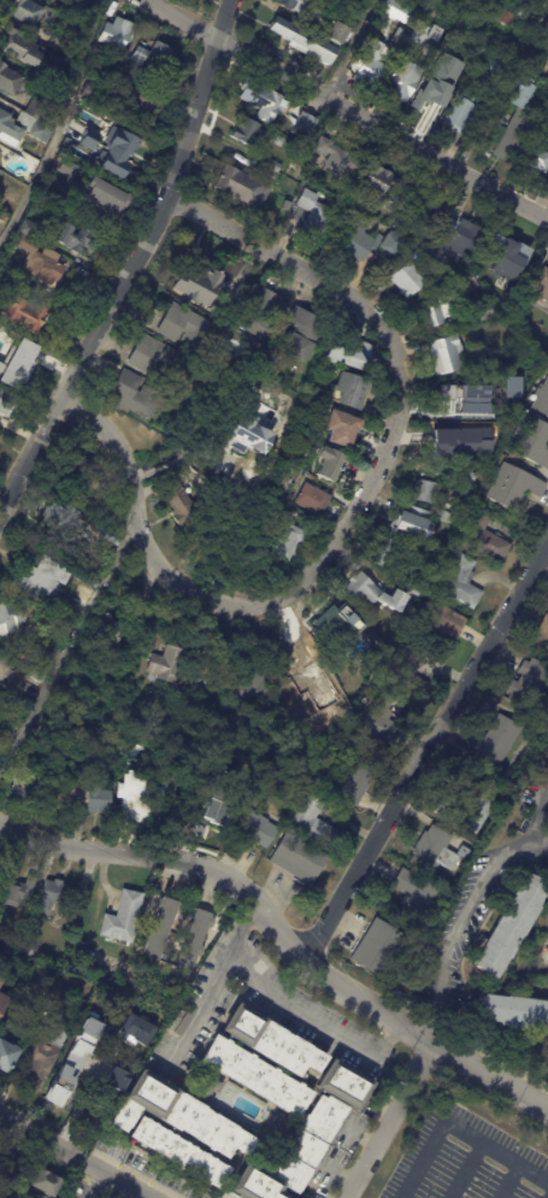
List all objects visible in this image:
building: (408, 0)
building: (419, 0)
building: (294, 6)
building: (349, 6)
building: (432, 6)
building: (525, 7)
building: (24, 11)
building: (396, 11)
building: (503, 17)
building: (467, 20)
building: (544, 23)
building: (334, 33)
building: (418, 33)
building: (114, 34)
building: (395, 36)
building: (302, 42)
building: (57, 43)
building: (19, 48)
building: (149, 57)
building: (450, 58)
building: (369, 63)
building: (494, 72)
building: (51, 78)
building: (403, 80)
building: (8, 81)
building: (440, 81)
building: (87, 92)
building: (135, 95)
building: (259, 99)
road: (349, 107)
building: (459, 107)
building: (515, 113)
road: (59, 123)
building: (25, 124)
building: (302, 127)
building: (247, 131)
building: (276, 140)
building: (537, 142)
building: (116, 147)
building: (69, 148)
building: (336, 162)
building: (535, 162)
building: (272, 165)
building: (66, 169)
building: (240, 188)
building: (376, 188)
building: (101, 204)
building: (422, 211)
building: (276, 212)
building: (312, 215)
building: (2, 218)
building: (397, 227)
building: (70, 239)
building: (459, 239)
building: (370, 243)
building: (505, 254)
building: (35, 256)
road: (135, 264)
building: (481, 269)
building: (403, 280)
building: (198, 286)
building: (24, 287)
building: (541, 288)
building: (40, 294)
building: (518, 306)
building: (232, 307)
building: (436, 312)
building: (483, 312)
building: (263, 313)
building: (22, 315)
building: (179, 325)
building: (297, 334)
building: (11, 353)
building: (357, 356)
building: (443, 356)
building: (152, 358)
building: (354, 393)
building: (134, 397)
building: (541, 400)
building: (6, 403)
building: (459, 405)
building: (342, 429)
building: (241, 435)
building: (442, 436)
building: (532, 442)
building: (477, 456)
building: (328, 464)
building: (464, 472)
building: (77, 474)
building: (513, 488)
building: (423, 492)
building: (176, 500)
building: (311, 500)
road: (352, 506)
building: (61, 517)
building: (446, 518)
building: (412, 524)
building: (483, 536)
building: (112, 538)
building: (284, 541)
building: (388, 554)
building: (37, 581)
building: (460, 581)
building: (414, 586)
building: (361, 589)
building: (405, 605)
building: (437, 624)
building: (334, 626)
building: (8, 628)
building: (543, 628)
building: (106, 629)
building: (546, 647)
road: (64, 653)
building: (88, 660)
building: (364, 664)
building: (164, 665)
building: (406, 673)
building: (5, 675)
building: (39, 677)
building: (248, 680)
building: (528, 686)
building: (199, 688)
building: (105, 715)
building: (381, 720)
building: (235, 722)
building: (495, 741)
road: (424, 748)
building: (0, 765)
building: (25, 782)
building: (348, 785)
building: (170, 791)
building: (61, 798)
building: (98, 799)
building: (135, 799)
building: (217, 805)
building: (465, 814)
building: (313, 827)
building: (257, 830)
road: (538, 839)
building: (434, 852)
road: (173, 856)
building: (297, 859)
building: (17, 891)
building: (55, 897)
building: (413, 897)
building: (125, 916)
road: (464, 916)
building: (508, 924)
building: (159, 929)
building: (194, 939)
building: (33, 946)
building: (376, 949)
building: (0, 979)
building: (1, 982)
building: (2, 1000)
building: (189, 1000)
road: (289, 1004)
building: (513, 1010)
road: (200, 1012)
building: (177, 1018)
building: (11, 1020)
building: (135, 1027)
road: (426, 1040)
building: (270, 1043)
building: (134, 1044)
building: (6, 1057)
building: (41, 1059)
building: (131, 1059)
building: (71, 1062)
building: (116, 1076)
building: (254, 1076)
building: (206, 1084)
building: (341, 1085)
building: (177, 1117)
road: (393, 1123)
road: (456, 1126)
road: (73, 1153)
building: (176, 1153)
building: (290, 1155)
building: (8, 1158)
parking lot: (467, 1162)
building: (43, 1180)
road: (509, 1181)
road: (88, 1182)
building: (1, 1186)

